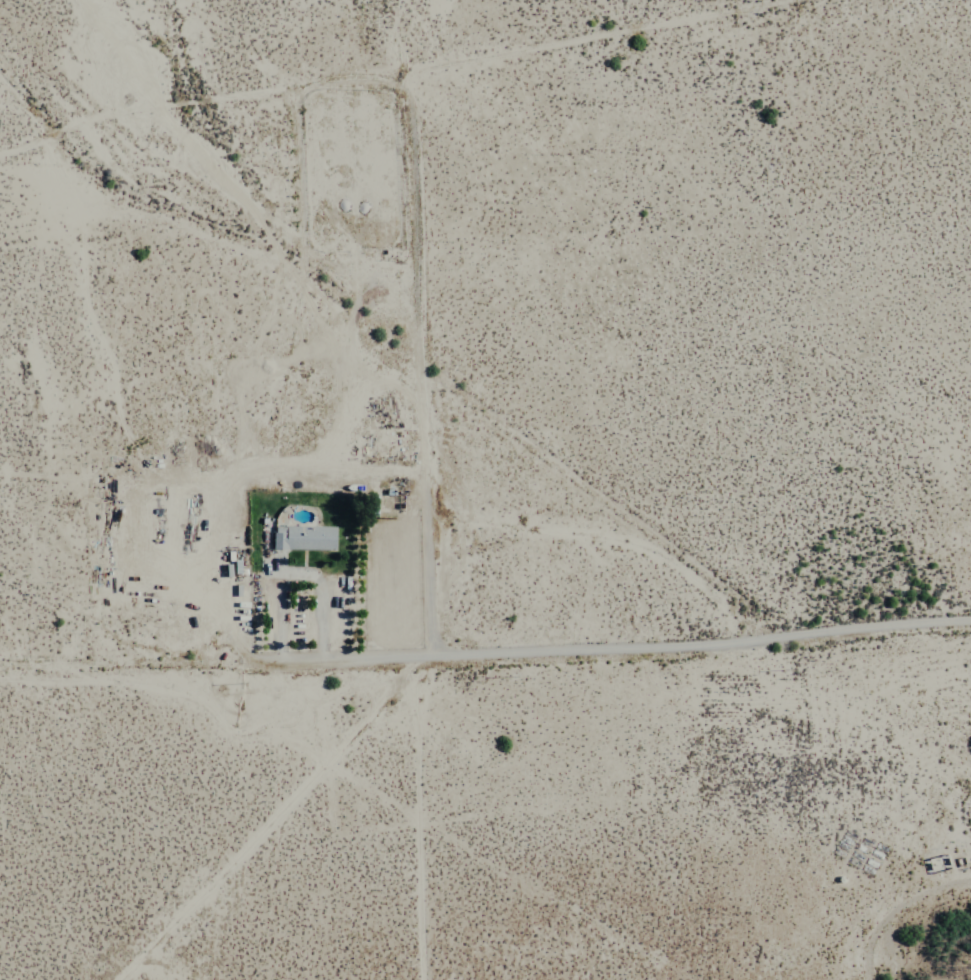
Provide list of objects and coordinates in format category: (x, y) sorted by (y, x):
road: (600, 37)
road: (196, 98)
road: (421, 362)
building: (305, 535)
road: (626, 642)
road: (141, 668)

